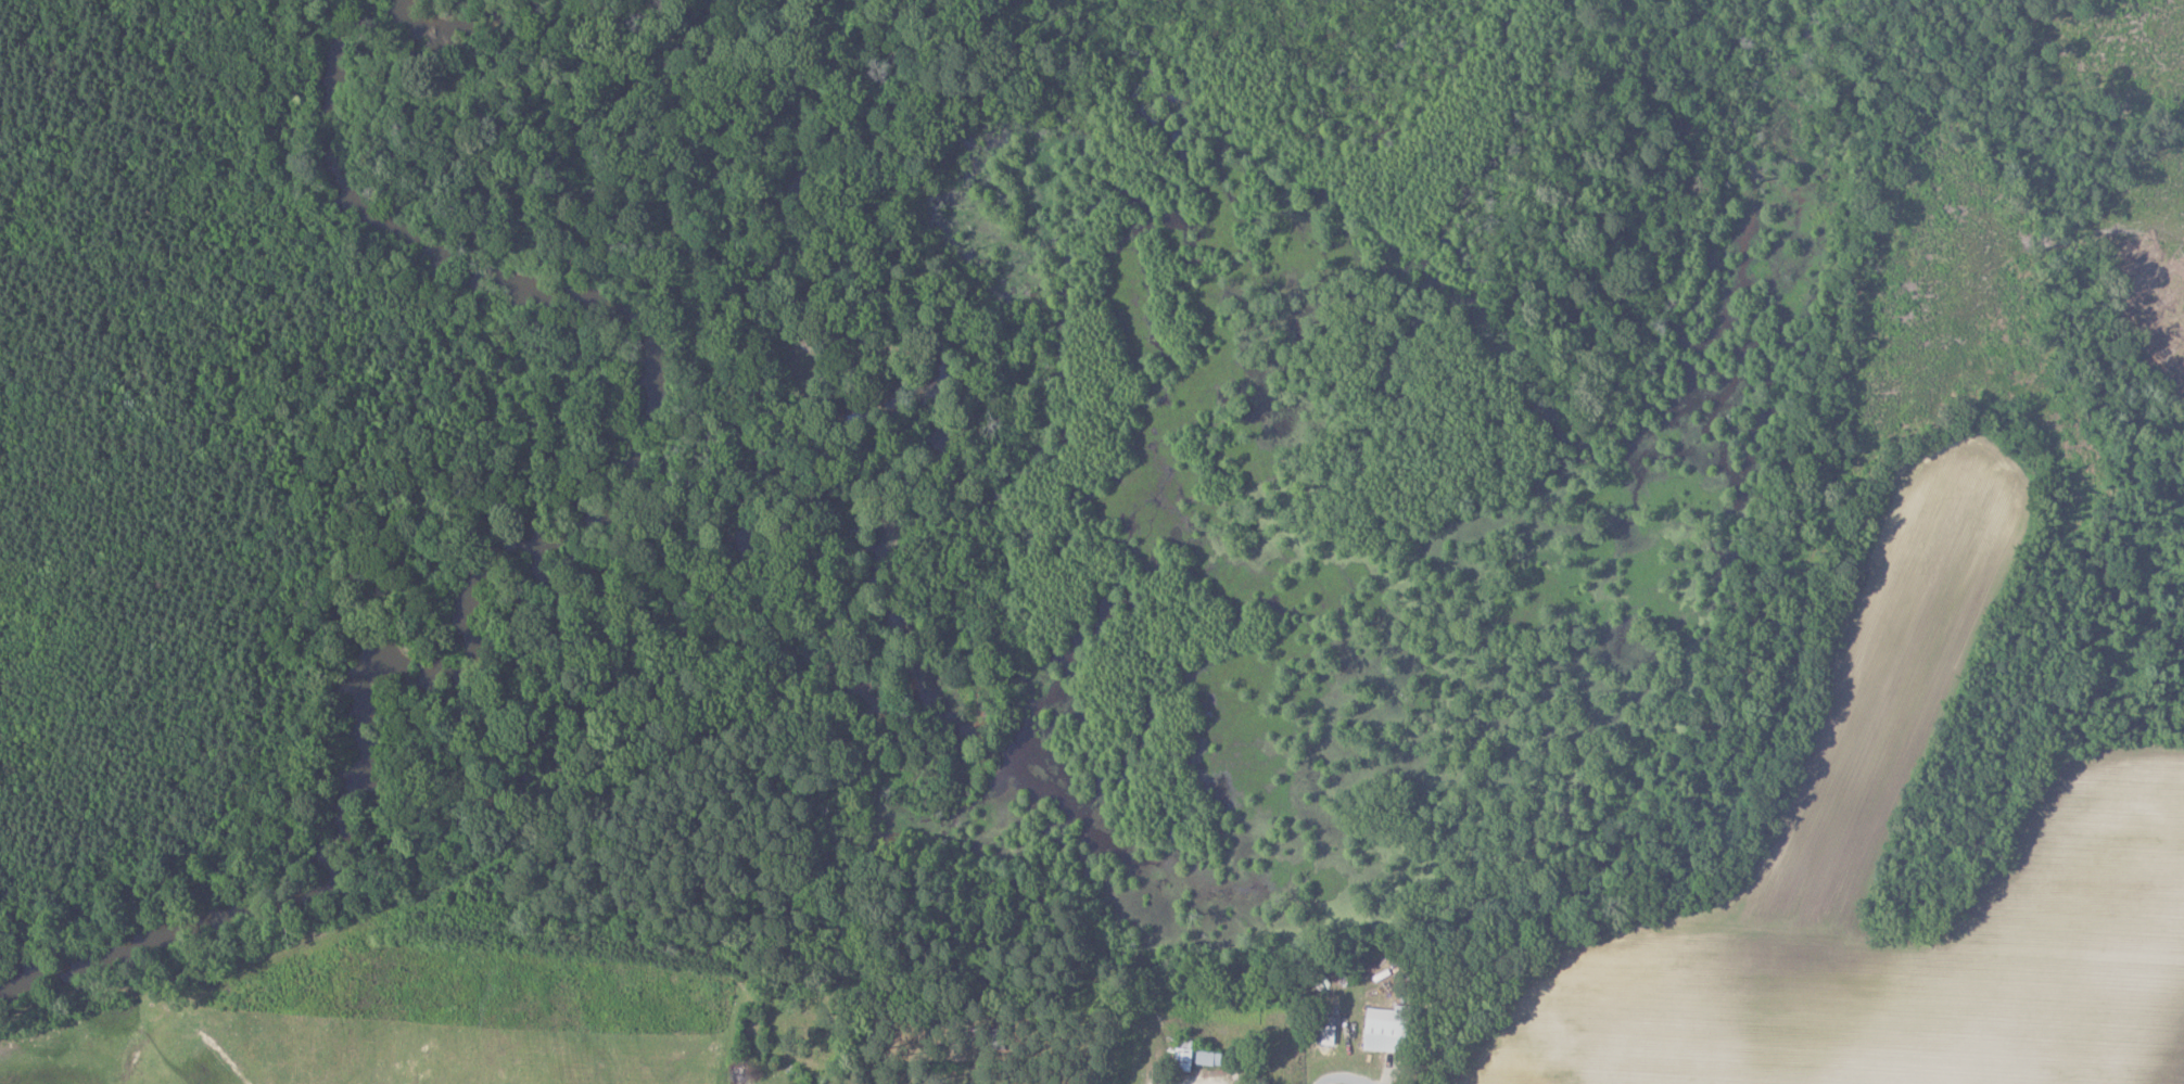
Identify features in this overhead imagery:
building: (1381, 1029)
building: (1205, 1057)
road: (1343, 1079)
road: (1207, 1083)
road: (1212, 1083)

